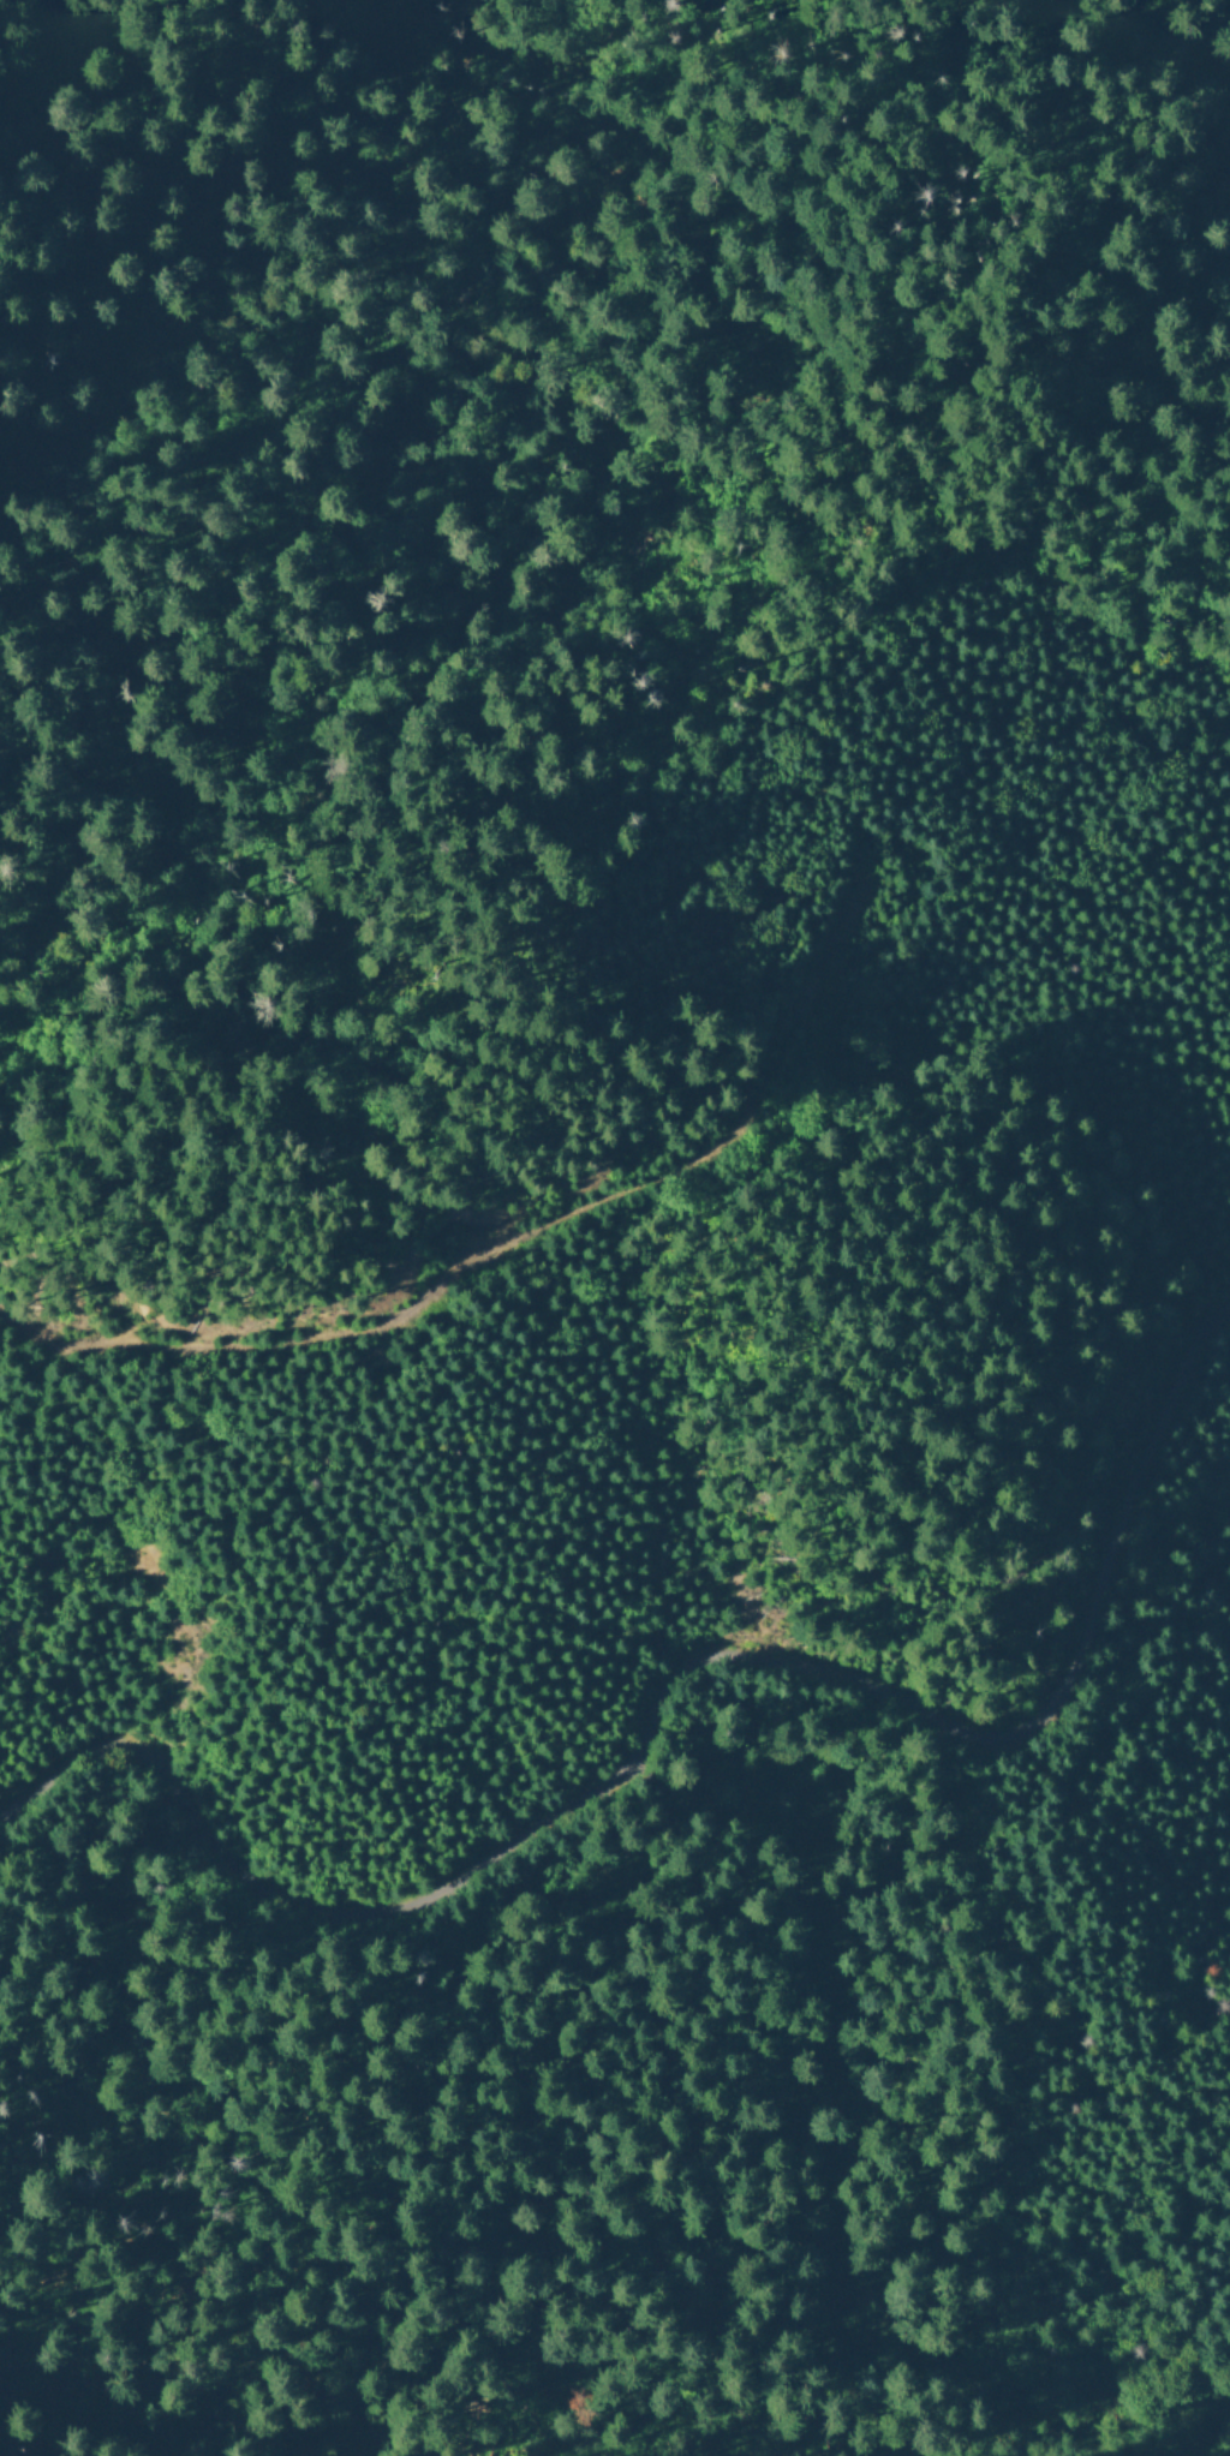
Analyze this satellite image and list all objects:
road: (657, 1715)

